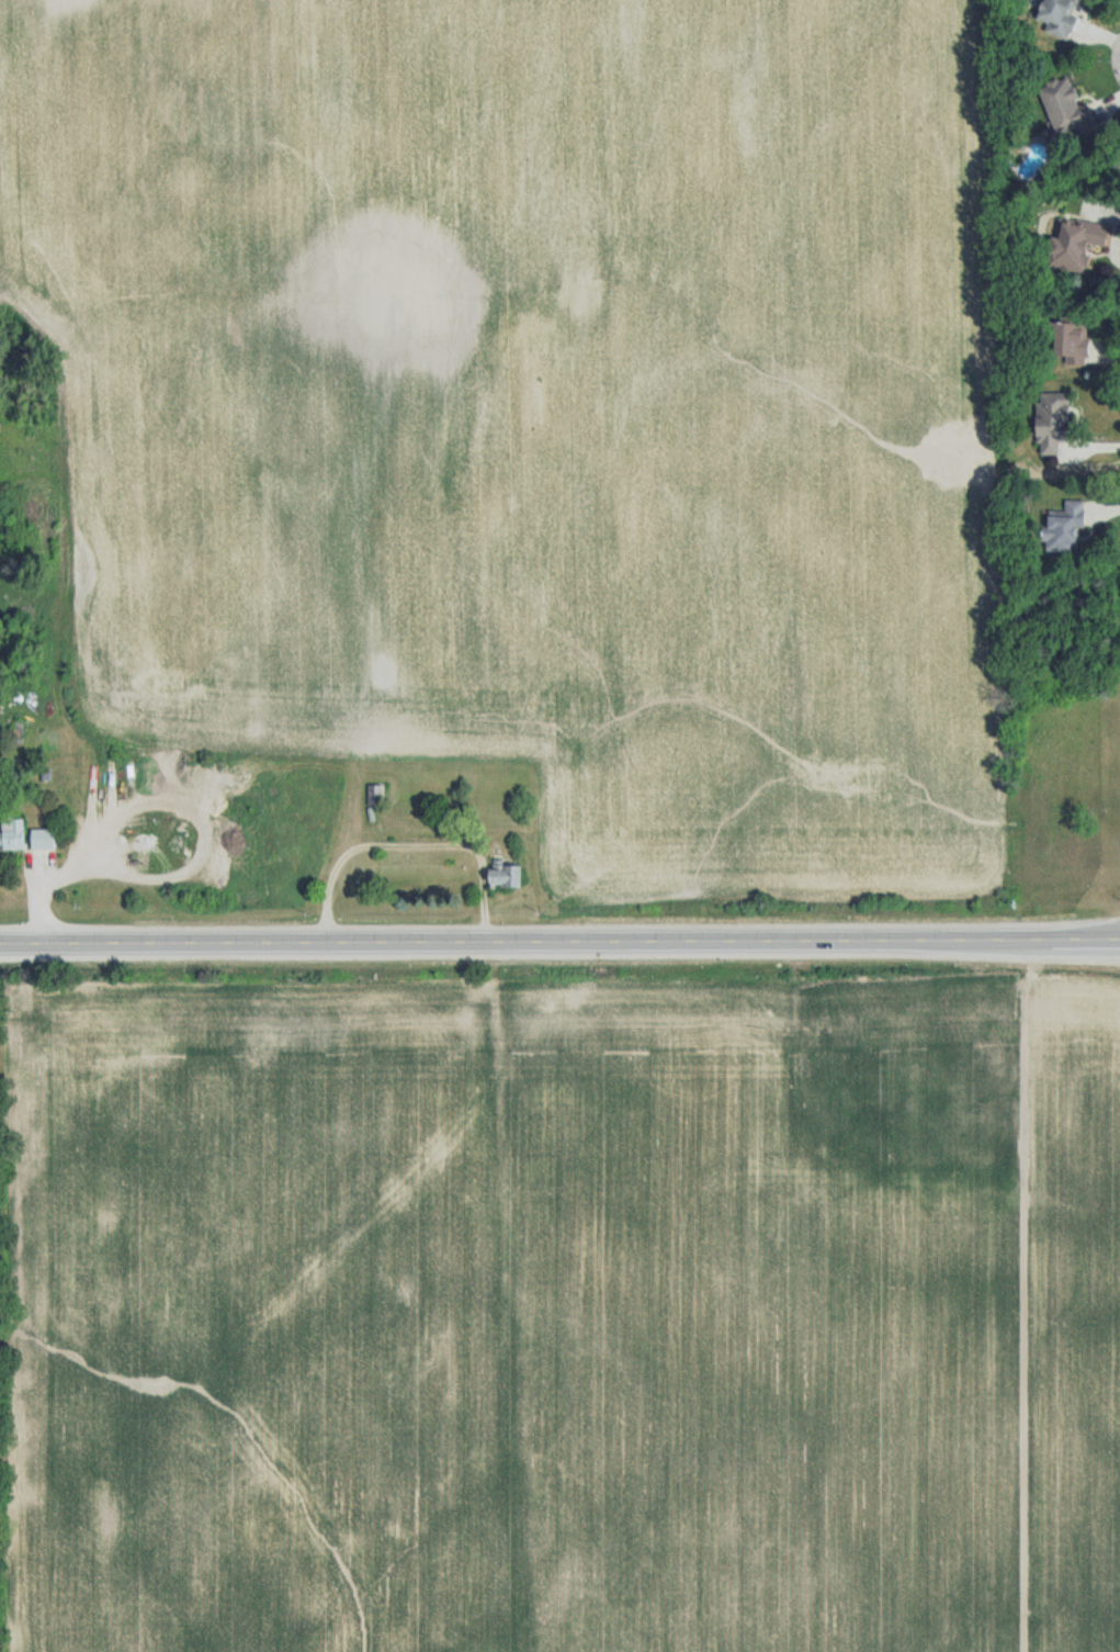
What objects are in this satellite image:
building: (1063, 18)
building: (1067, 108)
building: (1074, 248)
building: (1074, 341)
building: (1059, 423)
building: (1067, 527)
building: (430, 785)
building: (378, 796)
building: (15, 835)
building: (45, 841)
building: (508, 875)
road: (559, 940)
crop: (1076, 1313)
crop: (486, 1333)

